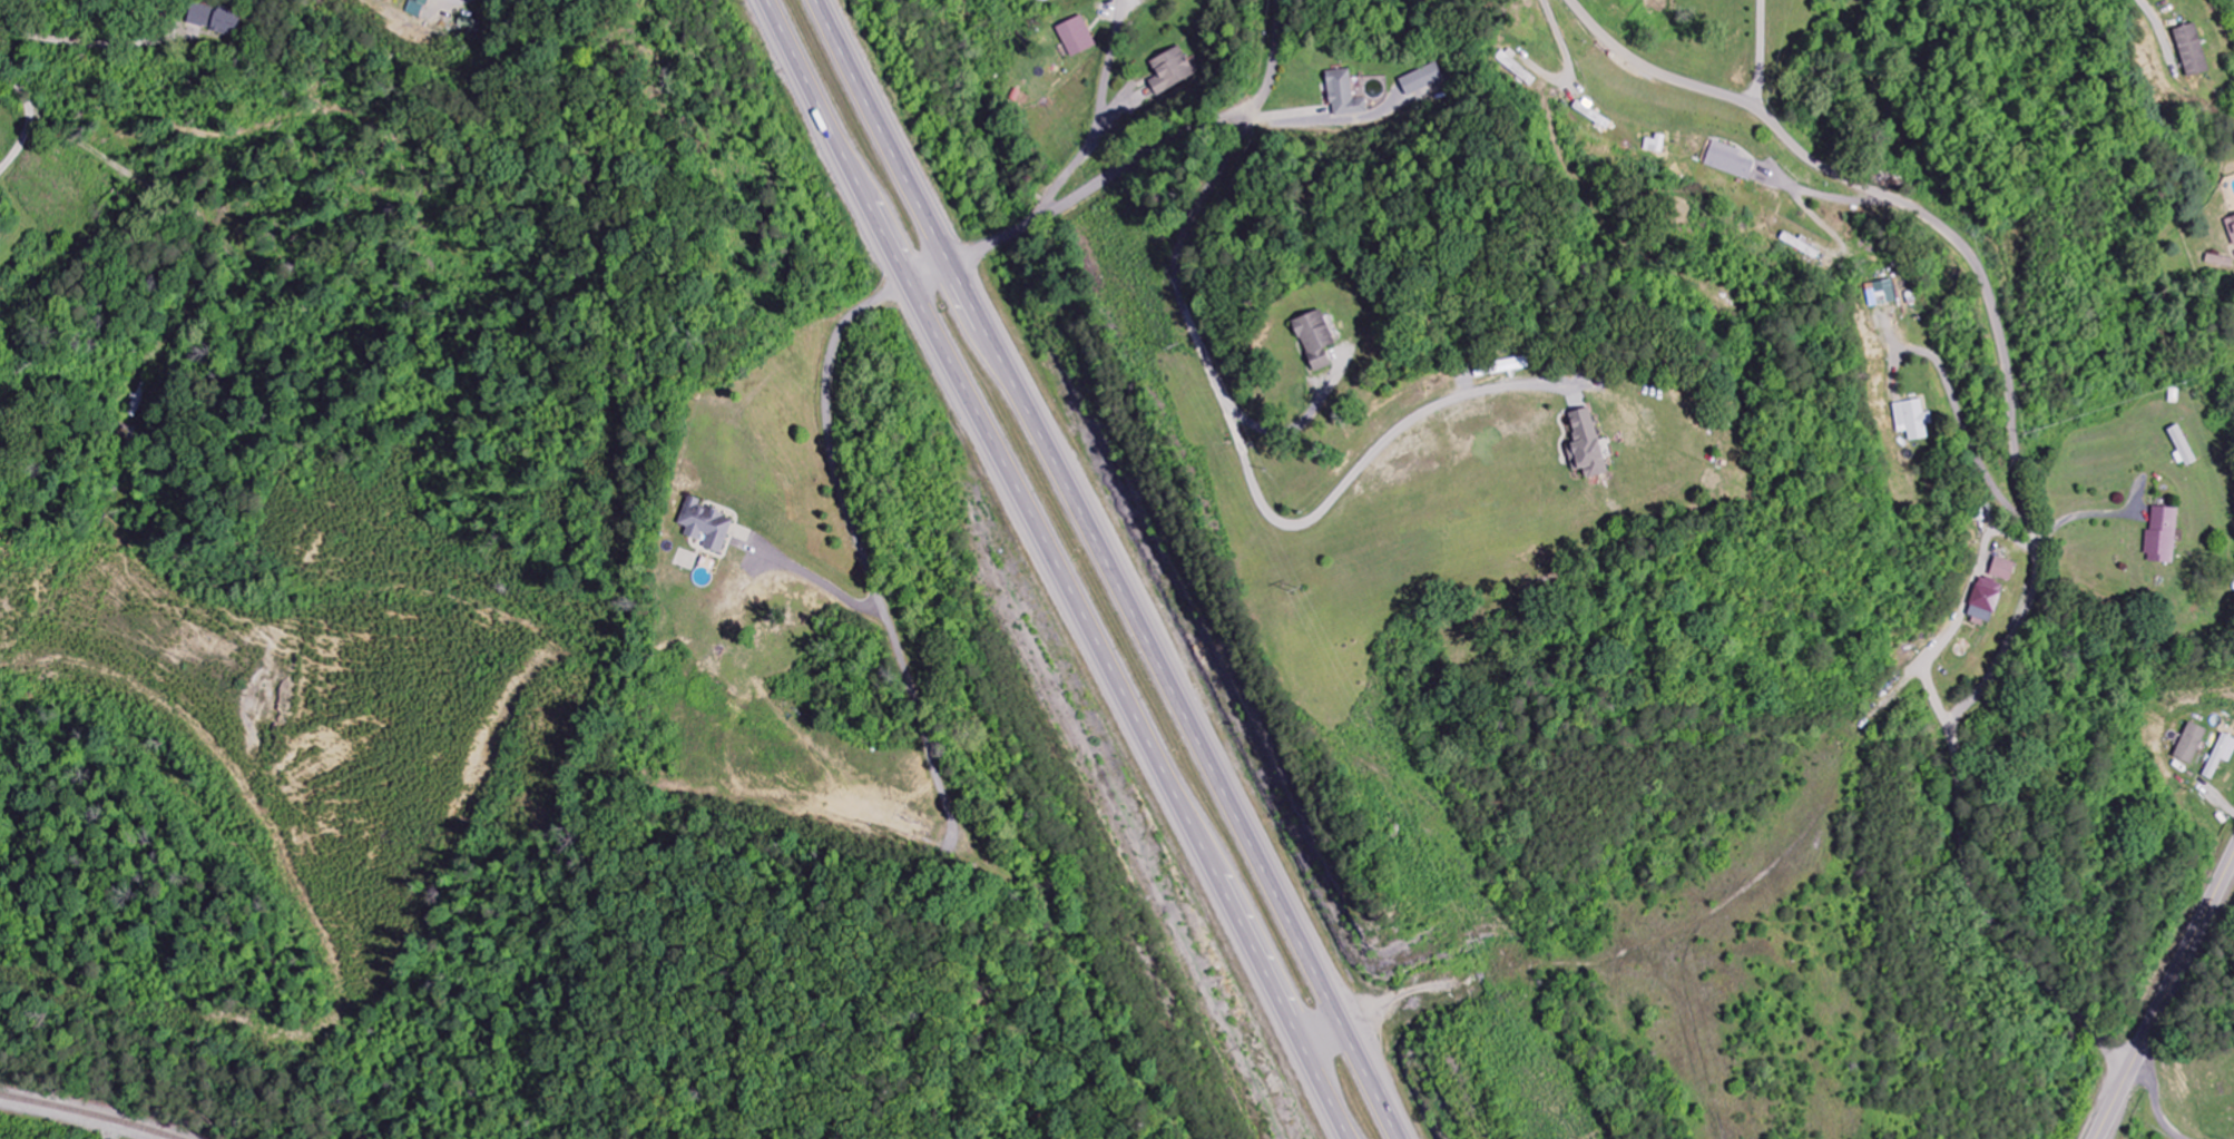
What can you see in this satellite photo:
building: (417, 8)
building: (205, 17)
building: (1077, 37)
building: (2192, 50)
building: (1173, 71)
building: (1424, 80)
building: (1344, 95)
road: (1100, 115)
building: (1656, 145)
building: (1730, 161)
road: (1130, 165)
building: (2231, 227)
building: (2220, 262)
building: (1882, 293)
building: (1315, 340)
building: (1501, 367)
building: (1913, 420)
building: (2183, 445)
building: (1586, 446)
road: (2018, 456)
road: (1254, 473)
building: (705, 526)
building: (2162, 537)
road: (1052, 569)
road: (1111, 569)
building: (2002, 569)
building: (1986, 601)
building: (2189, 744)
building: (2221, 756)
road: (1982, 786)
road: (2166, 999)
railway: (99, 1101)

